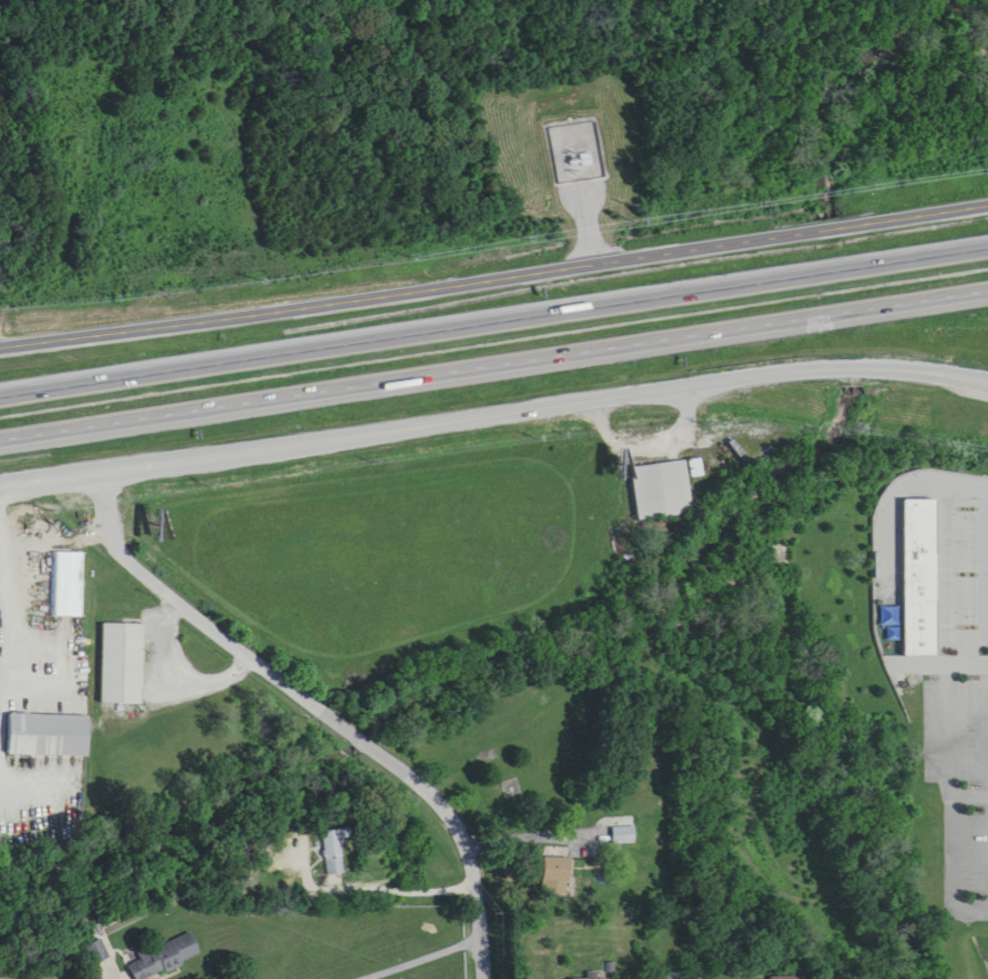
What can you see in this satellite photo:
building: (591, 148)
road: (494, 266)
road: (493, 322)
road: (494, 368)
road: (493, 404)
road: (651, 431)
road: (907, 478)
building: (661, 491)
building: (911, 563)
road: (947, 577)
building: (69, 586)
road: (12, 603)
road: (981, 627)
road: (941, 653)
building: (123, 665)
road: (172, 685)
road: (317, 706)
building: (49, 737)
road: (970, 785)
road: (953, 790)
road: (516, 827)
building: (625, 837)
building: (333, 855)
building: (557, 878)
road: (372, 890)
building: (99, 953)
road: (417, 956)
building: (168, 957)
road: (104, 976)
building: (598, 976)
building: (674, 977)
building: (787, 978)

